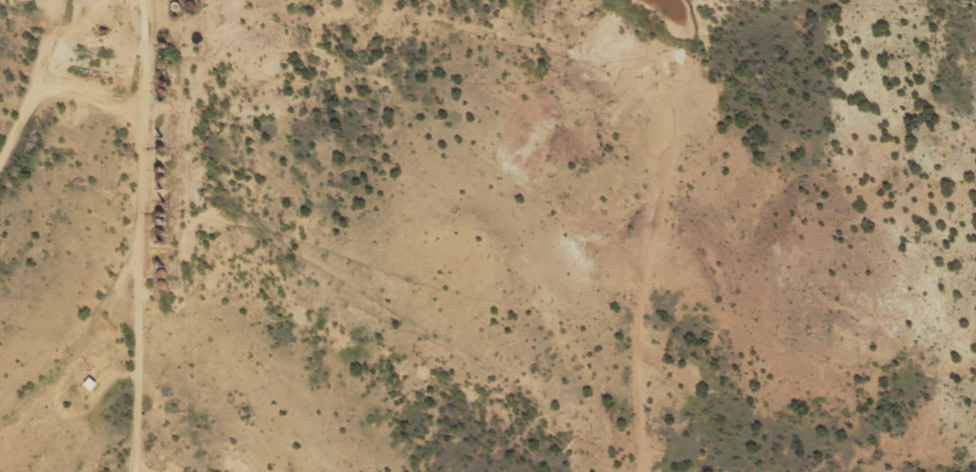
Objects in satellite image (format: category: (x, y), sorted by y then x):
road: (20, 63)

